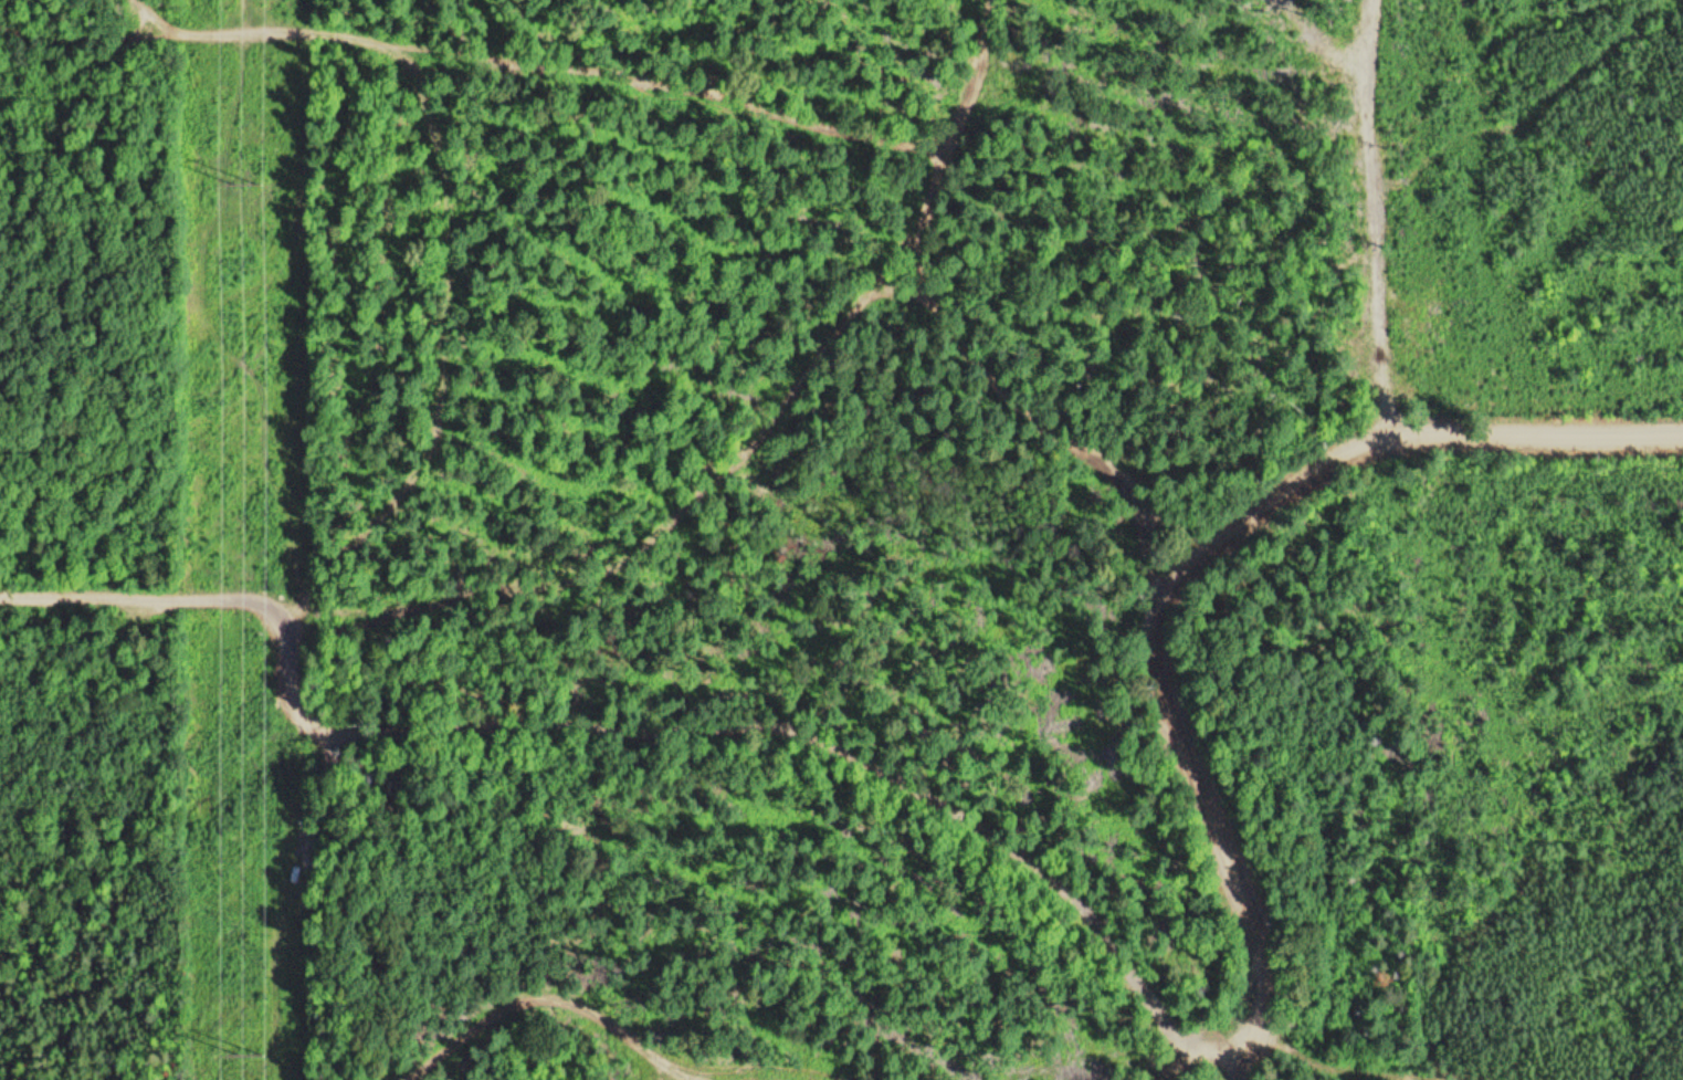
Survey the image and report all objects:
road: (238, 15)
road: (476, 54)
power tower: (249, 186)
road: (954, 326)
road: (1400, 448)
road: (603, 726)
road: (1217, 833)
power tower: (249, 1051)

